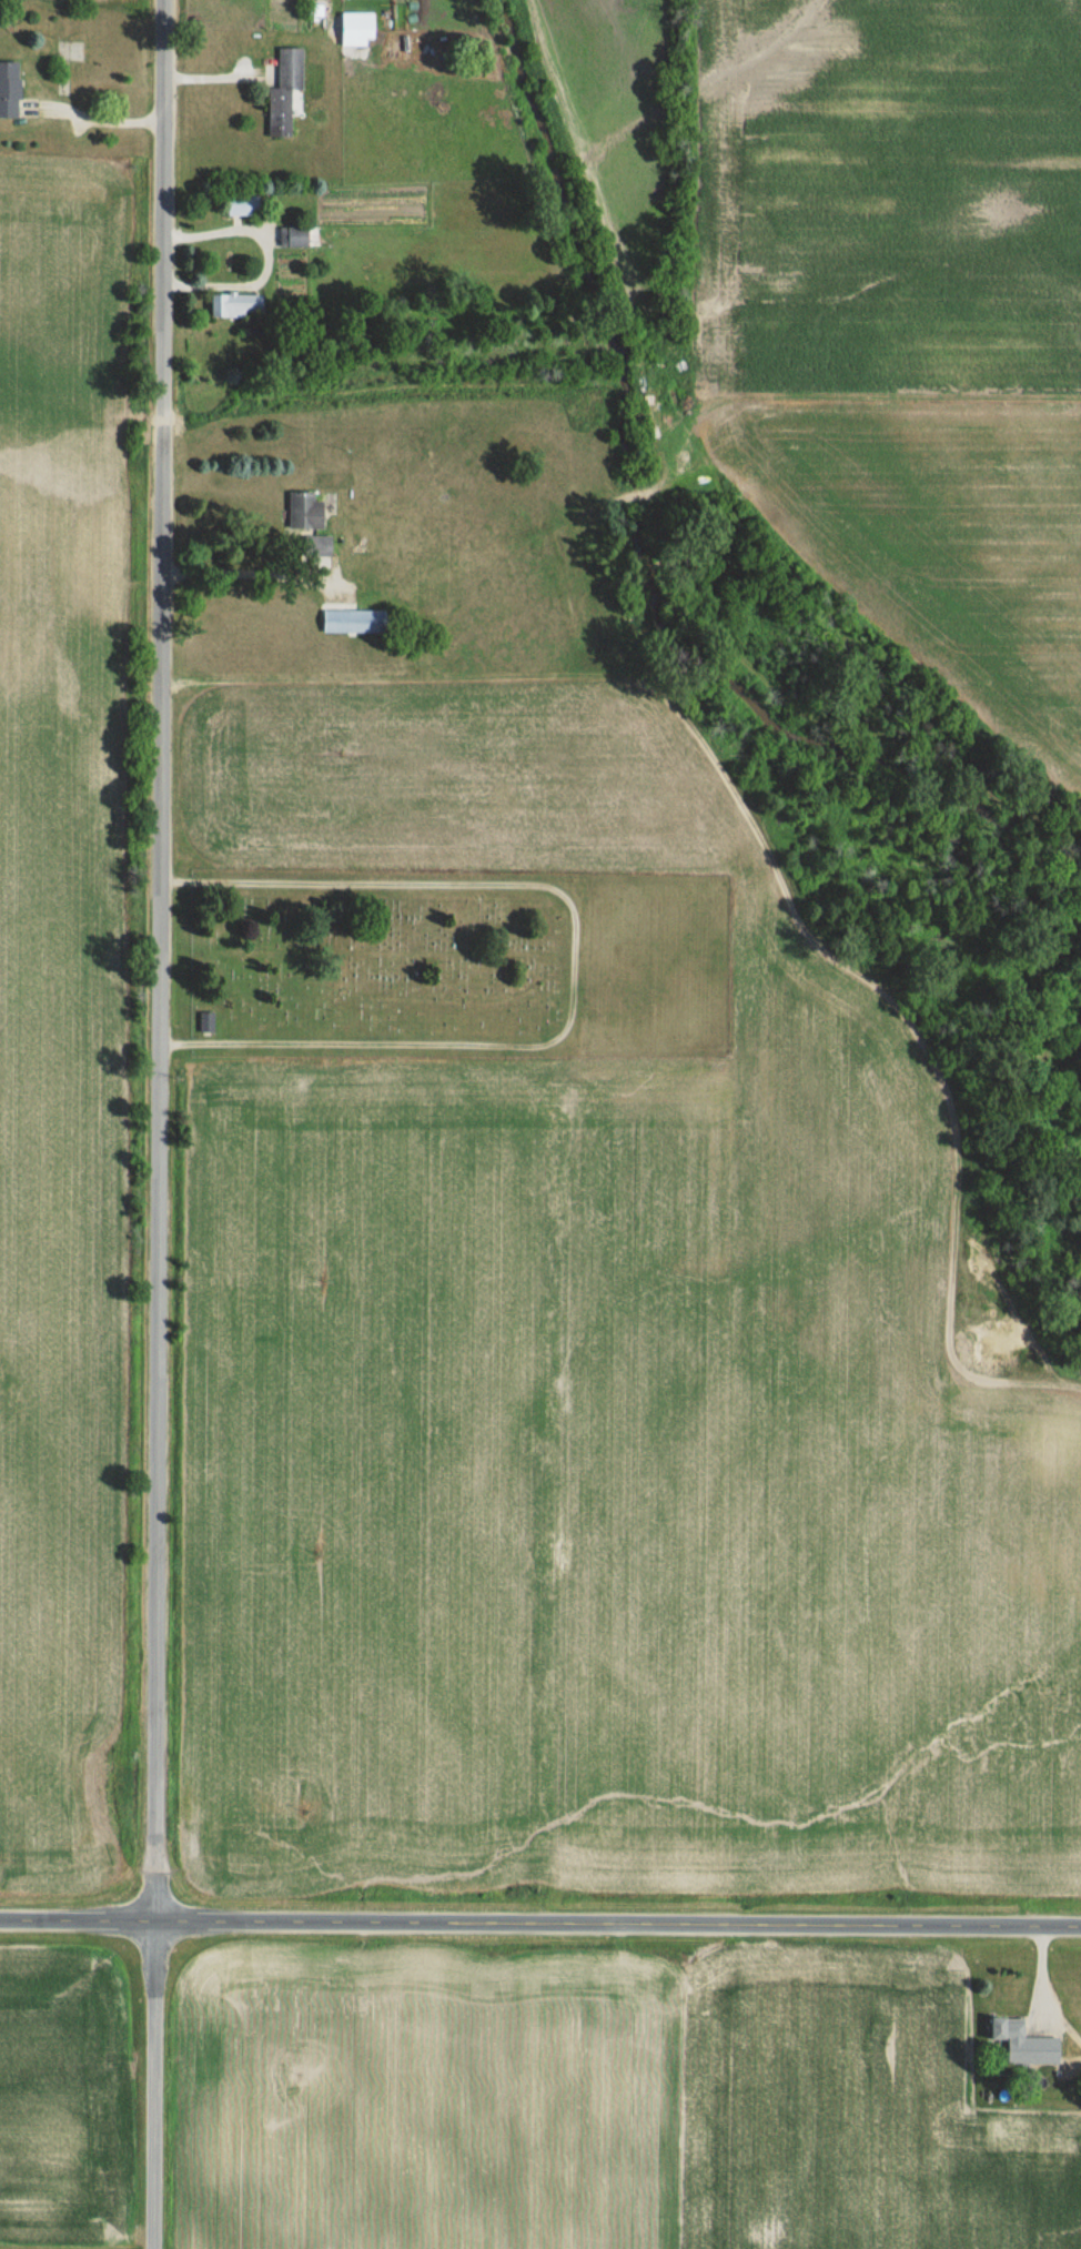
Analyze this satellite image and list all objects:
building: (360, 28)
building: (10, 89)
building: (285, 91)
building: (244, 204)
building: (296, 235)
road: (261, 251)
building: (234, 303)
building: (306, 507)
road: (251, 574)
building: (353, 618)
park: (385, 965)
building: (208, 1021)
road: (159, 1124)
road: (539, 1924)
road: (1039, 1997)
building: (1014, 2029)

